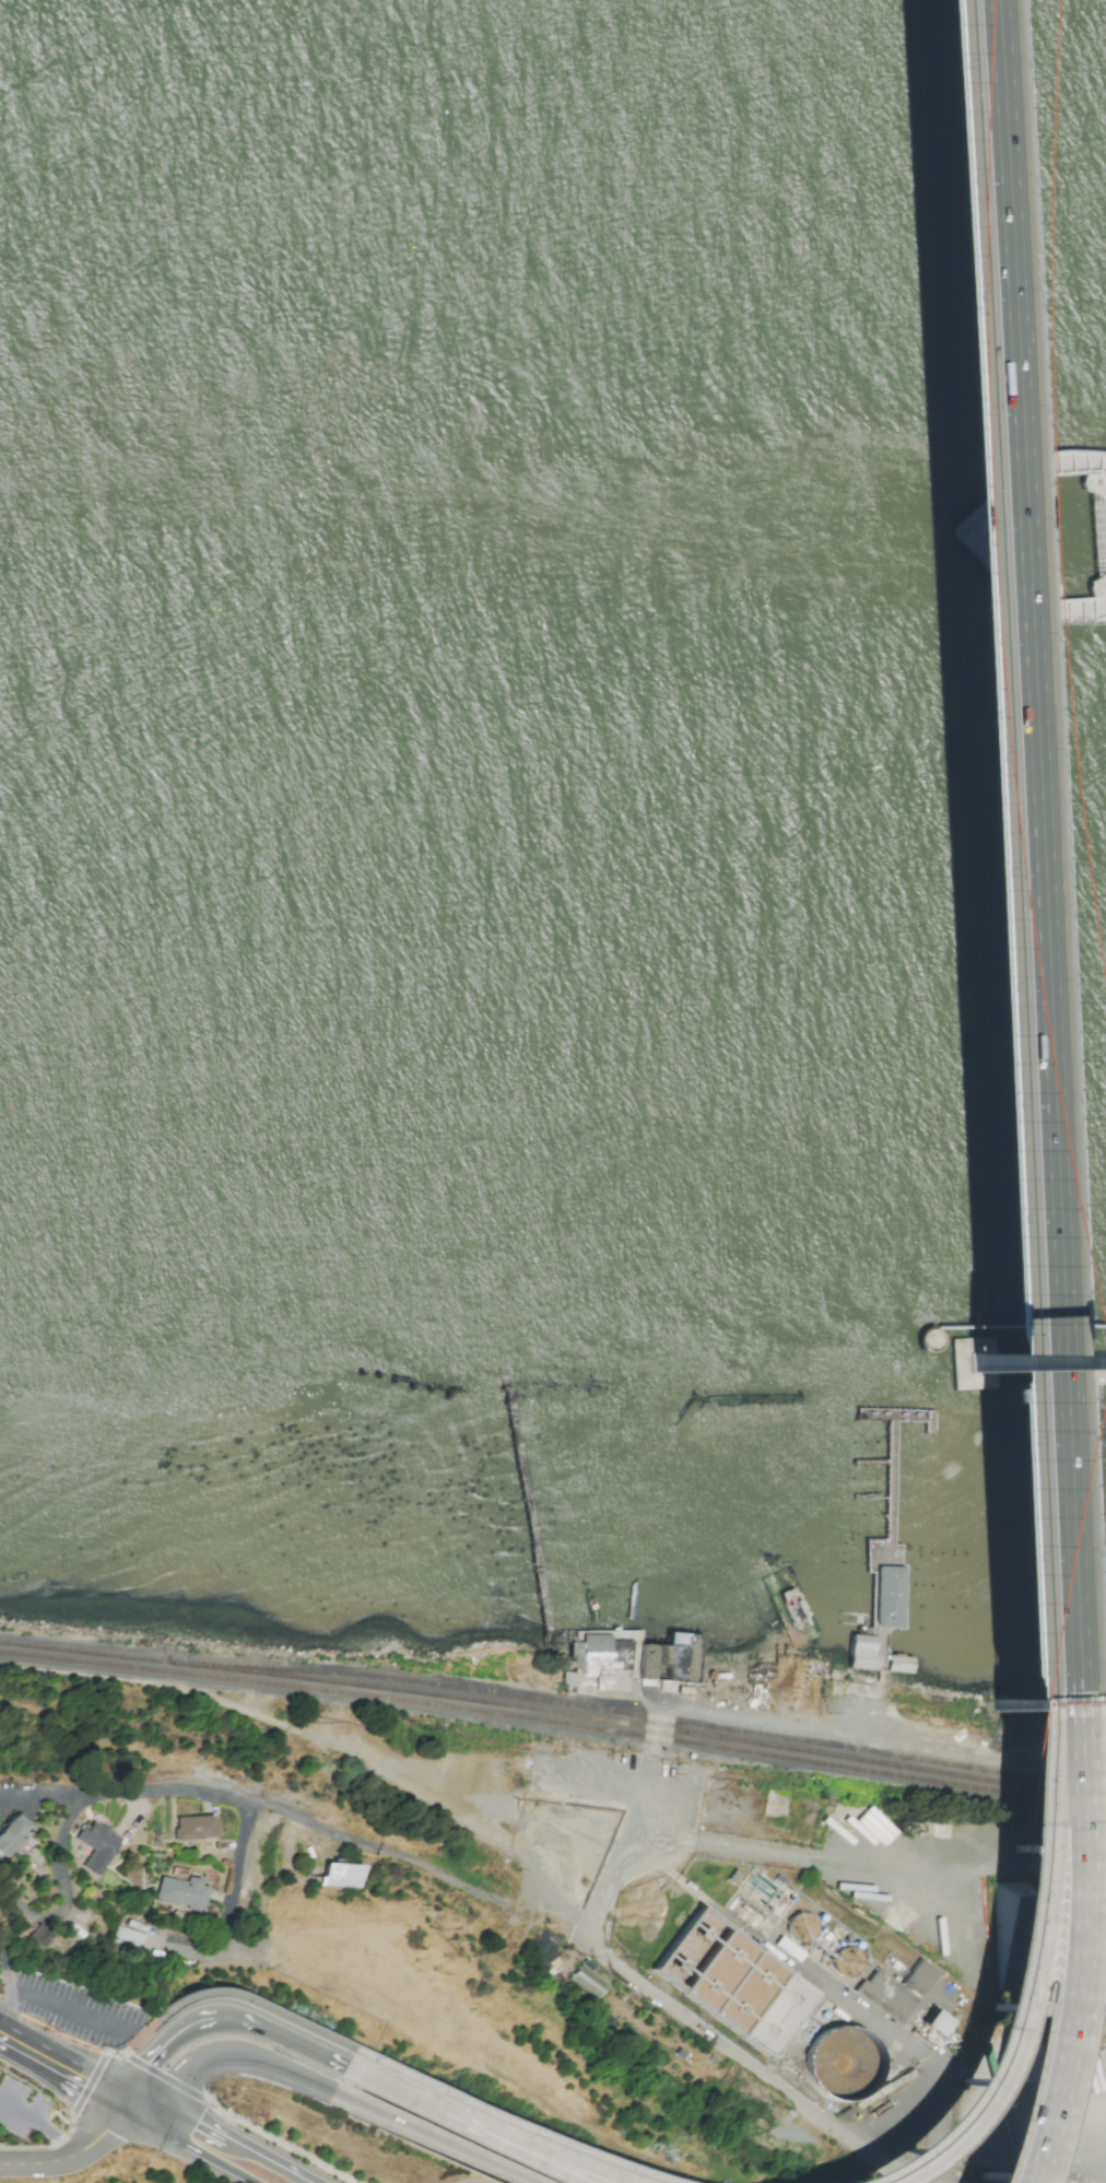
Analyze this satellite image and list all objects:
road: (923, 260)
pier: (985, 549)
road: (991, 850)
pier: (933, 1338)
pier: (1013, 1360)
building: (1015, 1361)
road: (984, 1383)
pier: (896, 1413)
pier: (529, 1513)
pier: (886, 1548)
pier: (645, 1584)
building: (887, 1595)
pier: (783, 1612)
building: (774, 1629)
building: (593, 1644)
pier: (638, 1650)
building: (862, 1653)
building: (672, 1658)
building: (904, 1665)
railway: (228, 1673)
building: (572, 1675)
building: (612, 1681)
road: (650, 1707)
railway: (659, 1717)
railway: (554, 1724)
road: (315, 1738)
railway: (781, 1748)
road: (608, 1776)
road: (1, 1797)
road: (261, 1804)
road: (584, 1815)
building: (844, 1817)
parking lot: (596, 1819)
building: (195, 1828)
road: (675, 1830)
building: (12, 1834)
building: (96, 1846)
road: (570, 1858)
road: (891, 1865)
building: (342, 1876)
building: (180, 1892)
road: (62, 1894)
road: (230, 1896)
building: (42, 1936)
building: (129, 1938)
road: (1043, 1945)
road: (1008, 1964)
road: (7, 1967)
building: (719, 1971)
wastewater plant: (788, 1973)
building: (588, 1979)
building: (894, 1992)
road: (203, 1993)
road: (51, 2003)
parking lot: (78, 2009)
building: (777, 2015)
road: (220, 2017)
road: (872, 2020)
building: (934, 2024)
road: (716, 2044)
road: (24, 2045)
road: (233, 2055)
road: (67, 2068)
road: (114, 2093)
parking lot: (21, 2108)
traffic signals: (142, 2109)
road: (234, 2120)
road: (505, 2123)
road: (39, 2124)
road: (462, 2126)
road: (483, 2126)
road: (204, 2129)
road: (1069, 2131)
road: (109, 2135)
road: (434, 2136)
road: (190, 2151)
road: (37, 2161)
road: (1058, 2166)
road: (284, 2171)

